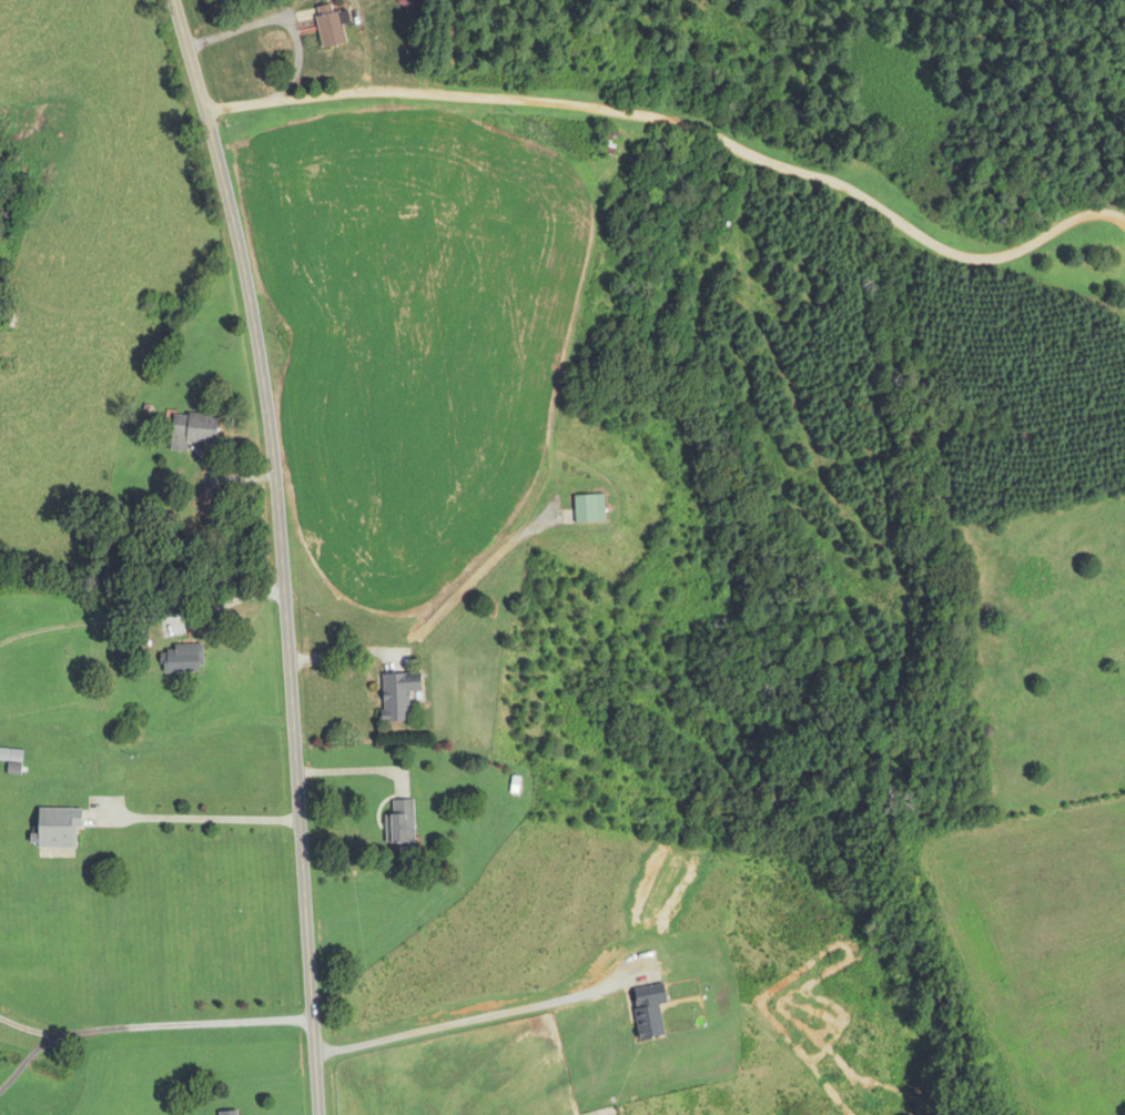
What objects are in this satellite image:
road: (281, 18)
building: (331, 27)
road: (687, 123)
building: (608, 140)
building: (662, 149)
building: (12, 322)
building: (192, 432)
building: (588, 509)
road: (283, 551)
road: (232, 601)
road: (345, 651)
building: (182, 660)
building: (397, 697)
building: (11, 769)
building: (514, 789)
road: (199, 817)
building: (401, 824)
building: (57, 829)
road: (473, 1018)
road: (154, 1025)
road: (27, 1058)
building: (229, 1114)

